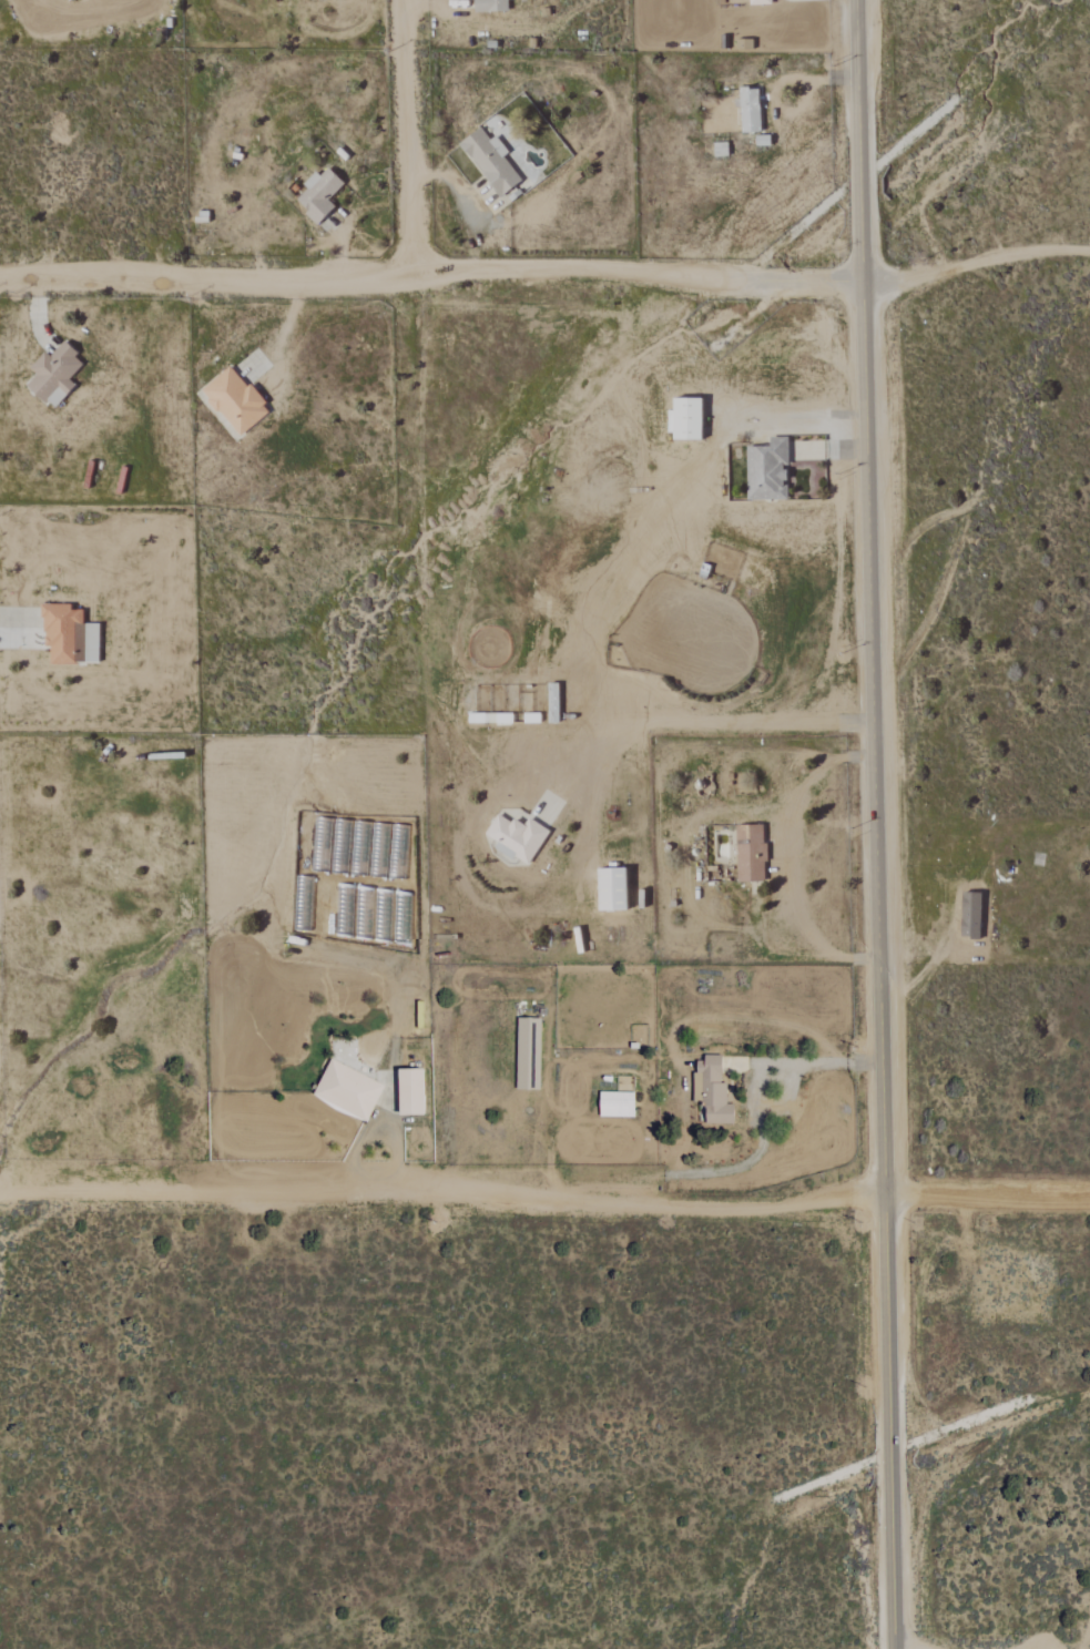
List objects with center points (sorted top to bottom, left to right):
building: (761, 2)
road: (432, 4)
building: (489, 6)
road: (64, 28)
road: (790, 106)
building: (748, 110)
road: (407, 136)
building: (489, 161)
road: (449, 189)
building: (318, 195)
road: (353, 217)
road: (992, 259)
road: (366, 274)
road: (880, 279)
road: (797, 282)
road: (284, 326)
building: (53, 375)
building: (234, 401)
road: (792, 423)
building: (766, 470)
building: (68, 635)
road: (857, 721)
road: (689, 724)
road: (875, 824)
building: (516, 837)
building: (750, 853)
road: (783, 868)
building: (610, 888)
road: (809, 1065)
road: (866, 1065)
building: (347, 1090)
building: (711, 1090)
building: (409, 1091)
building: (615, 1105)
road: (376, 1131)
road: (882, 1198)
road: (1001, 1201)
road: (425, 1202)

